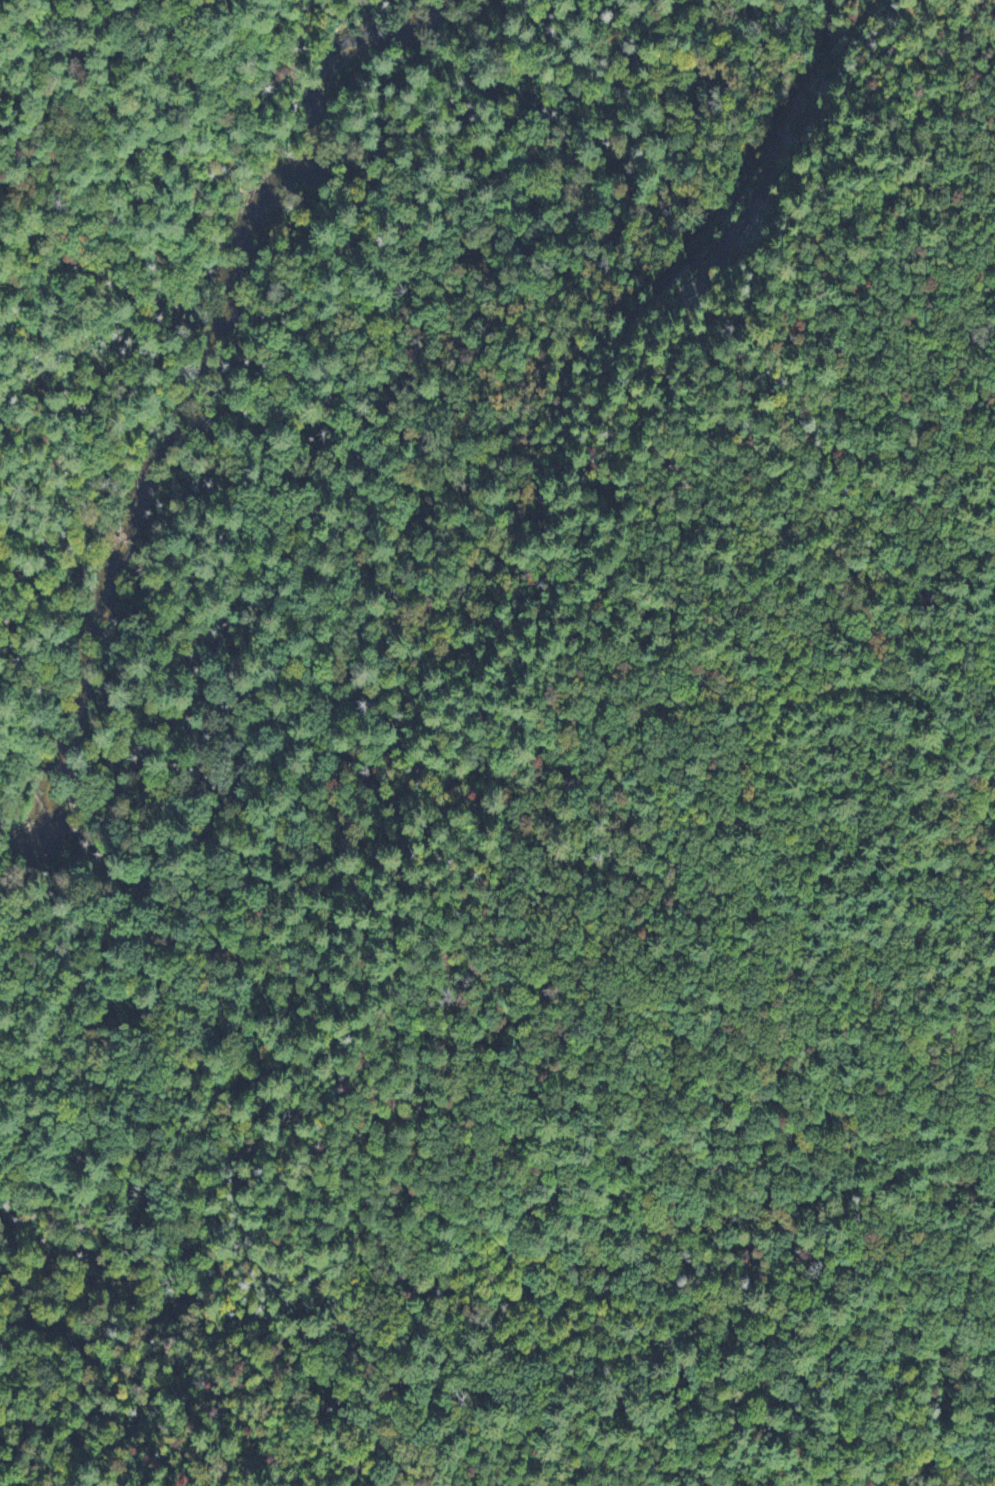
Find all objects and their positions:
river: (187, 400)

